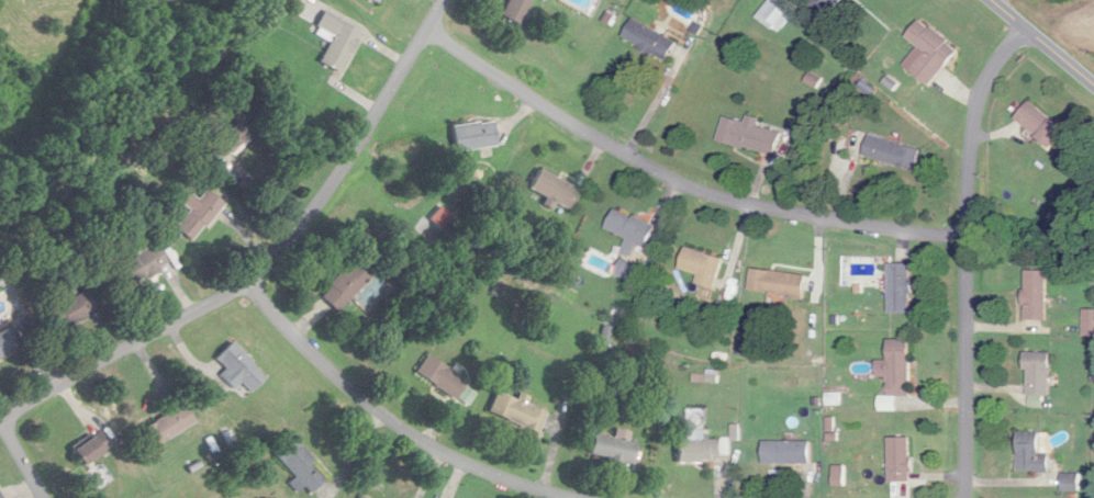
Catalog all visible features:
building: (376, 1)
building: (834, 2)
building: (516, 10)
building: (774, 16)
building: (649, 39)
building: (337, 41)
road: (1042, 43)
building: (930, 52)
building: (1041, 124)
building: (475, 135)
building: (749, 135)
building: (228, 139)
building: (892, 151)
road: (678, 183)
building: (556, 189)
building: (198, 213)
building: (630, 230)
road: (961, 253)
road: (270, 258)
building: (143, 265)
building: (703, 267)
building: (628, 270)
building: (778, 283)
building: (345, 285)
building: (900, 287)
building: (1036, 295)
building: (74, 309)
building: (1089, 322)
building: (9, 341)
building: (239, 367)
building: (896, 367)
building: (1038, 375)
building: (444, 377)
building: (517, 411)
road: (378, 412)
building: (167, 426)
building: (614, 446)
building: (91, 448)
building: (703, 449)
building: (788, 452)
building: (1031, 453)
building: (900, 459)
road: (19, 462)
building: (299, 465)
building: (1071, 482)
building: (0, 496)
building: (360, 497)

